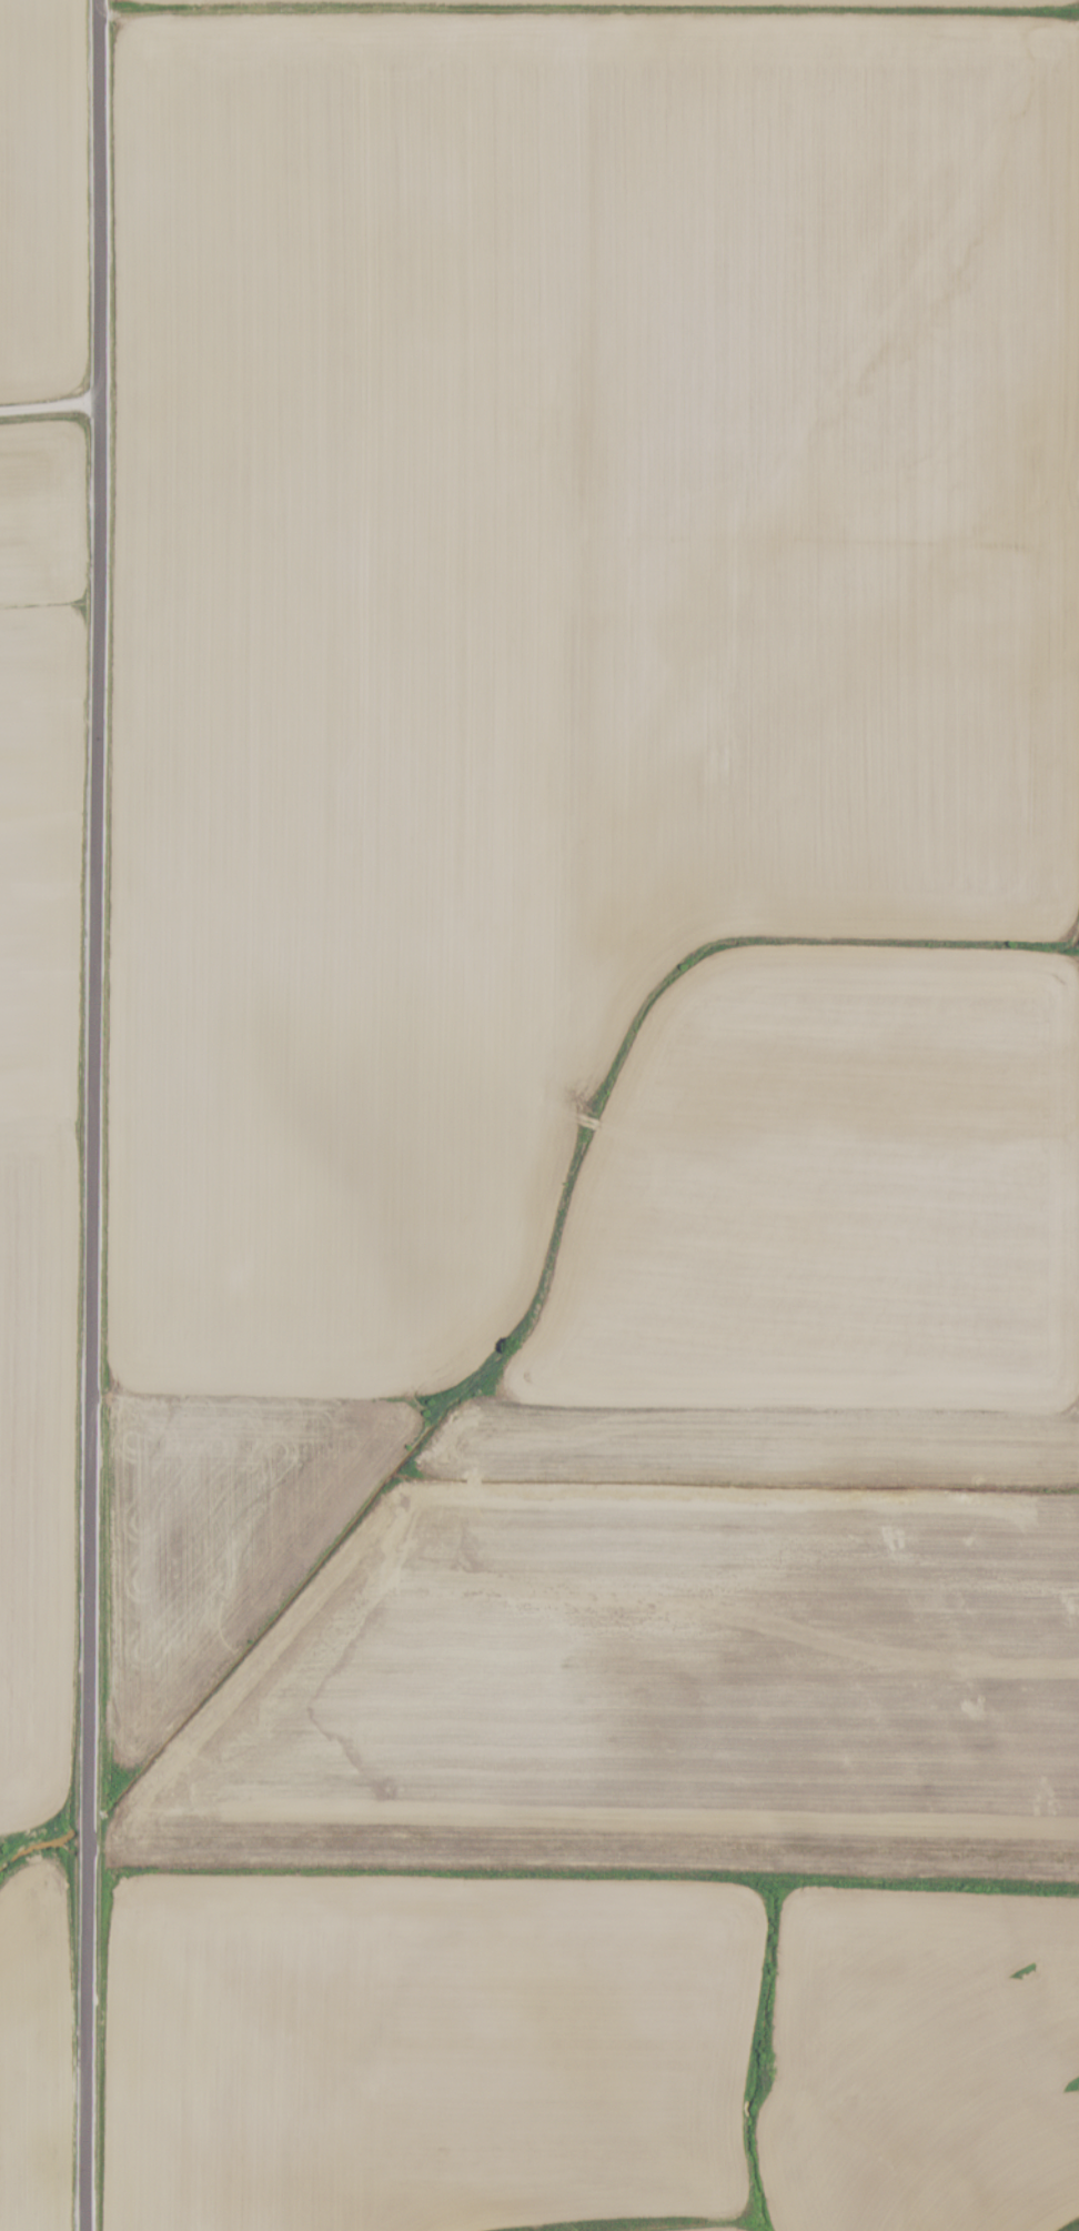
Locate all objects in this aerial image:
road: (49, 409)
road: (91, 1115)

